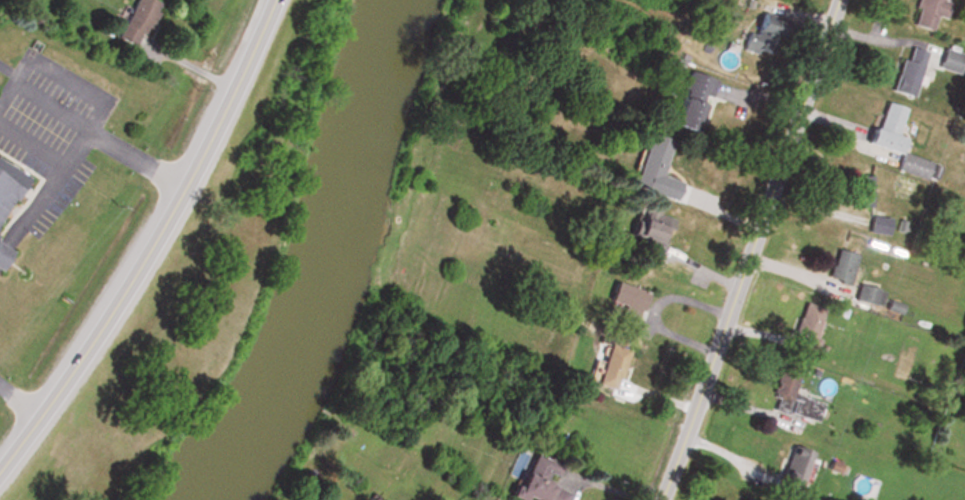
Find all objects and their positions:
building: (926, 12)
building: (131, 20)
building: (759, 35)
building: (948, 60)
building: (907, 70)
building: (690, 101)
road: (43, 104)
building: (889, 116)
road: (30, 145)
road: (75, 145)
building: (895, 152)
building: (648, 160)
building: (5, 180)
building: (858, 189)
building: (877, 223)
building: (646, 230)
road: (146, 239)
road: (1, 241)
building: (0, 250)
road: (747, 250)
river: (292, 262)
building: (840, 265)
building: (866, 294)
building: (622, 299)
building: (805, 325)
building: (608, 366)
building: (790, 395)
road: (18, 401)
building: (790, 472)
building: (534, 480)
building: (746, 498)

